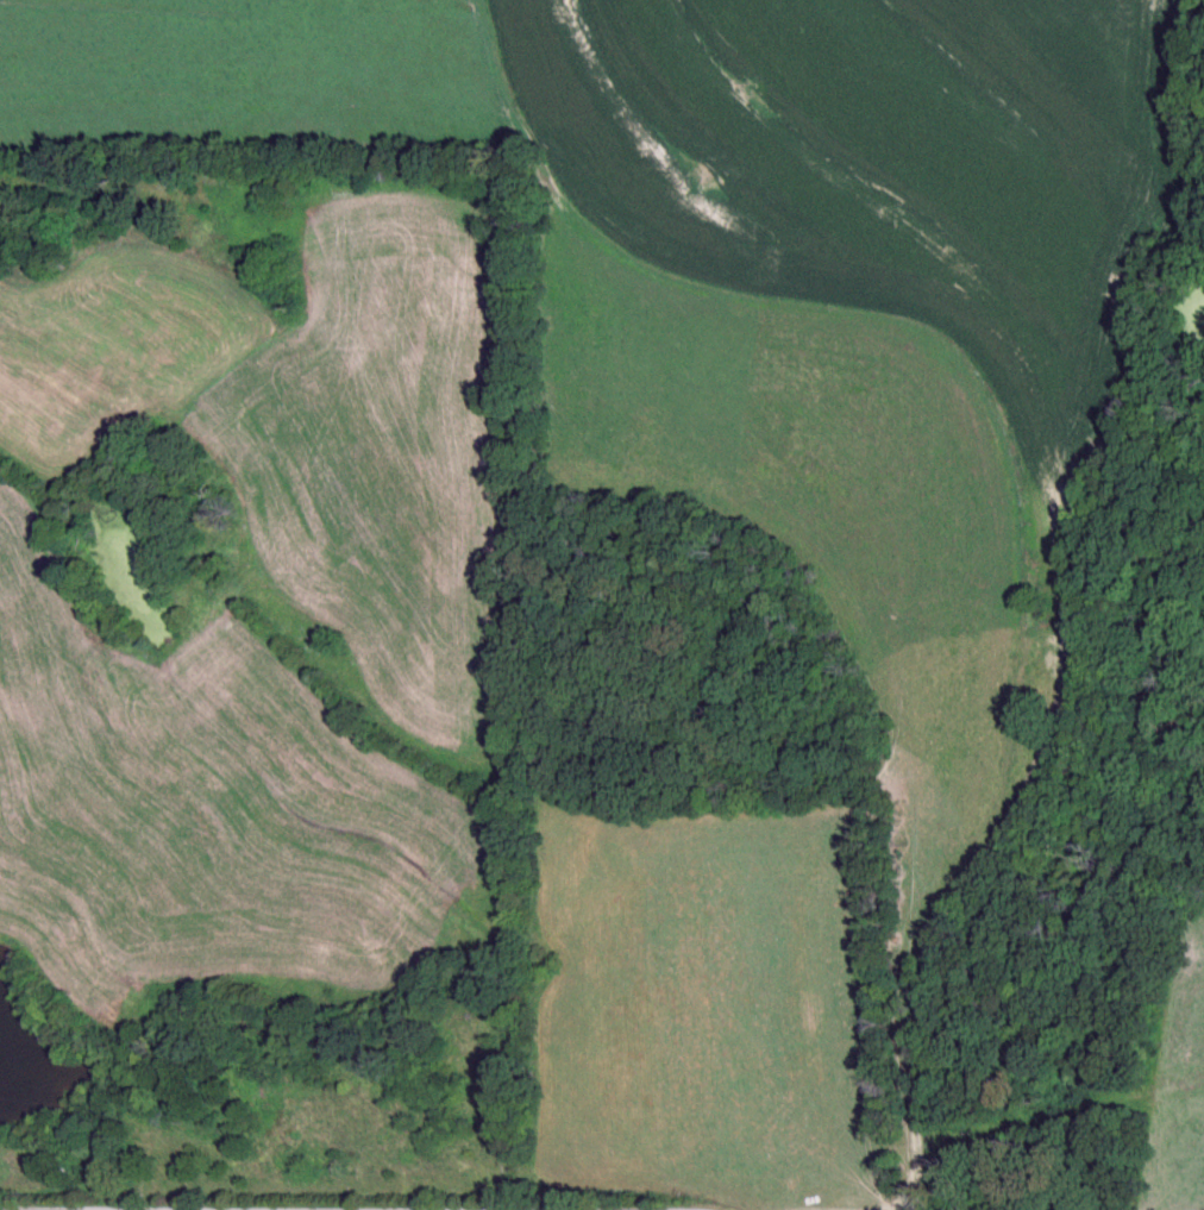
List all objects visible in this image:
road: (27, 754)

